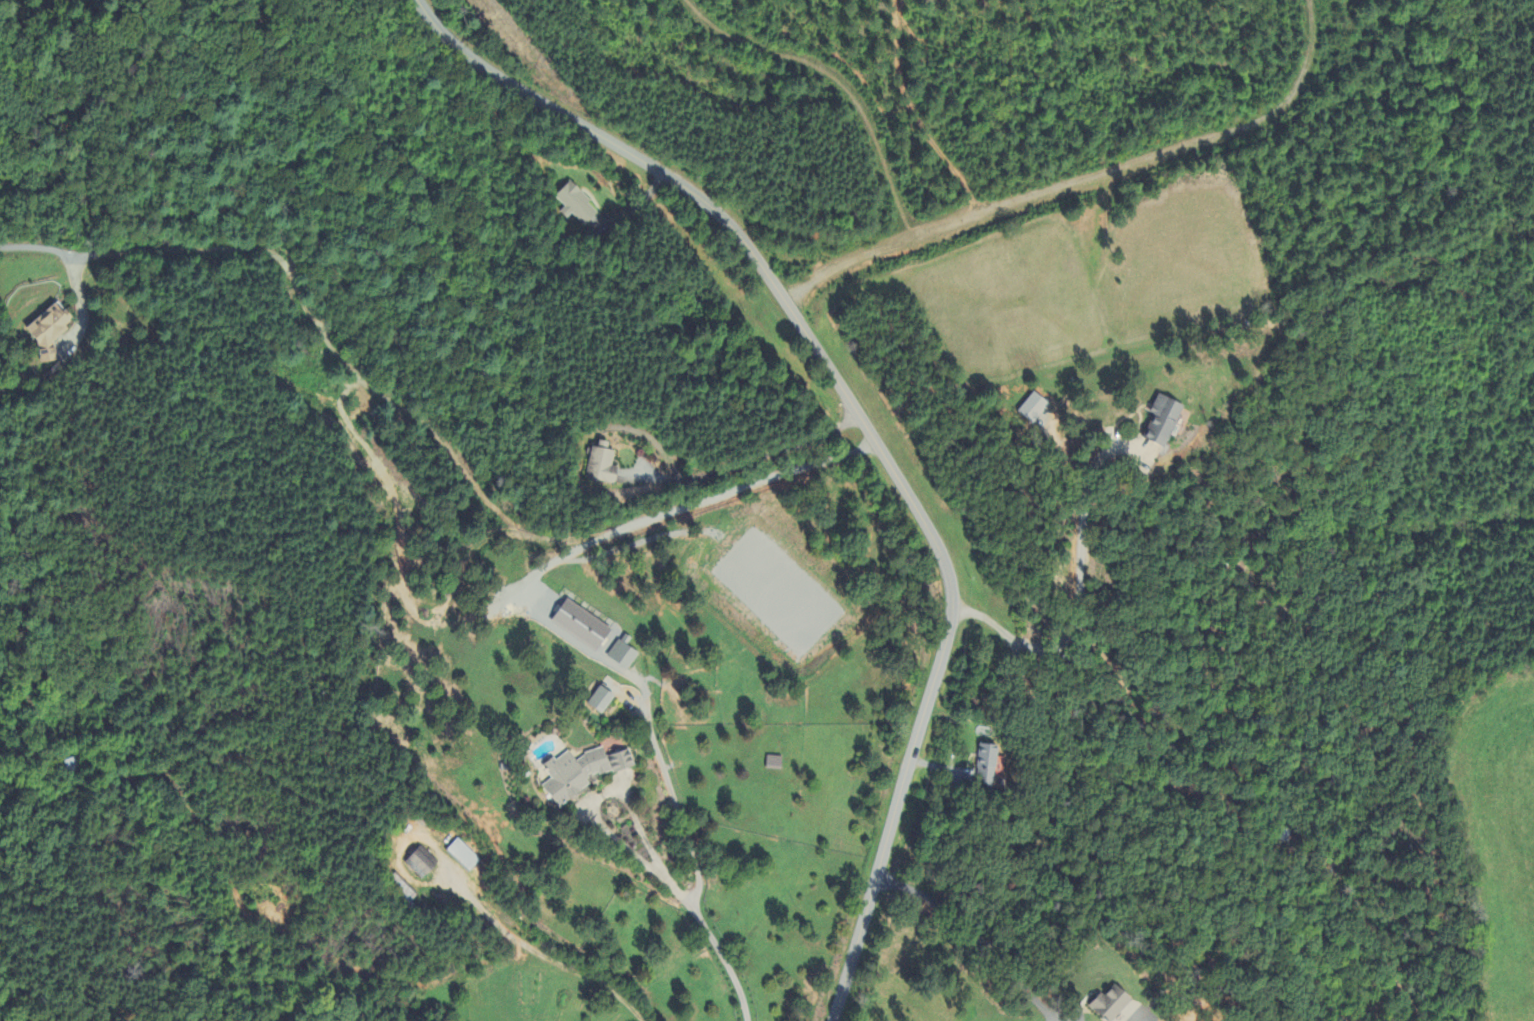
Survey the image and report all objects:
building: (577, 206)
road: (42, 253)
building: (49, 331)
building: (1034, 408)
building: (1166, 422)
road: (866, 428)
road: (749, 463)
building: (602, 467)
road: (1077, 613)
building: (583, 626)
road: (571, 637)
building: (623, 654)
building: (604, 701)
building: (987, 766)
building: (587, 774)
building: (463, 856)
road: (653, 863)
building: (422, 864)
road: (979, 943)
building: (1112, 1005)

